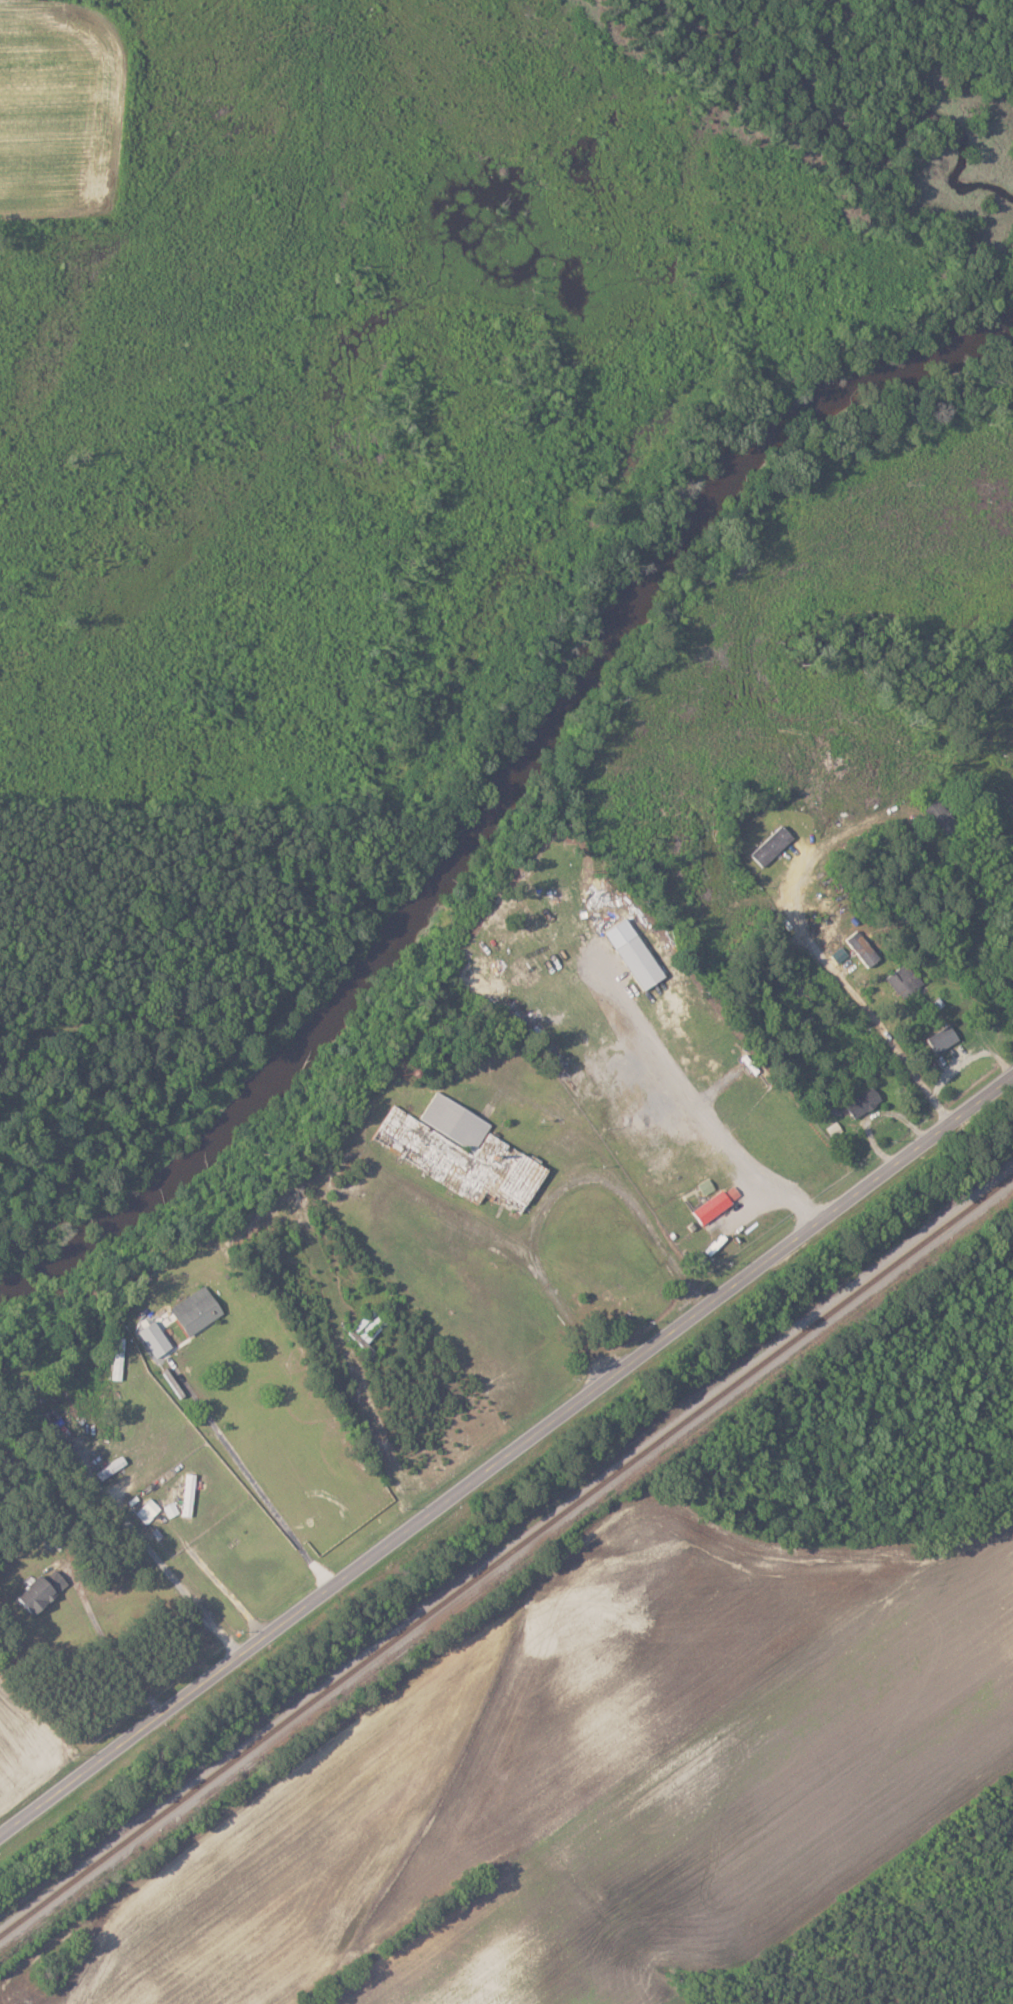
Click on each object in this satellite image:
river: (505, 796)
building: (945, 816)
building: (774, 844)
building: (865, 947)
building: (637, 953)
road: (837, 979)
building: (905, 980)
building: (944, 1037)
building: (865, 1101)
road: (702, 1108)
building: (462, 1149)
building: (707, 1185)
road: (558, 1192)
building: (718, 1203)
building: (199, 1309)
road: (507, 1450)
road: (267, 1501)
building: (172, 1509)
building: (149, 1510)
railway: (506, 1555)
road: (175, 1578)
building: (44, 1591)
road: (119, 1657)

